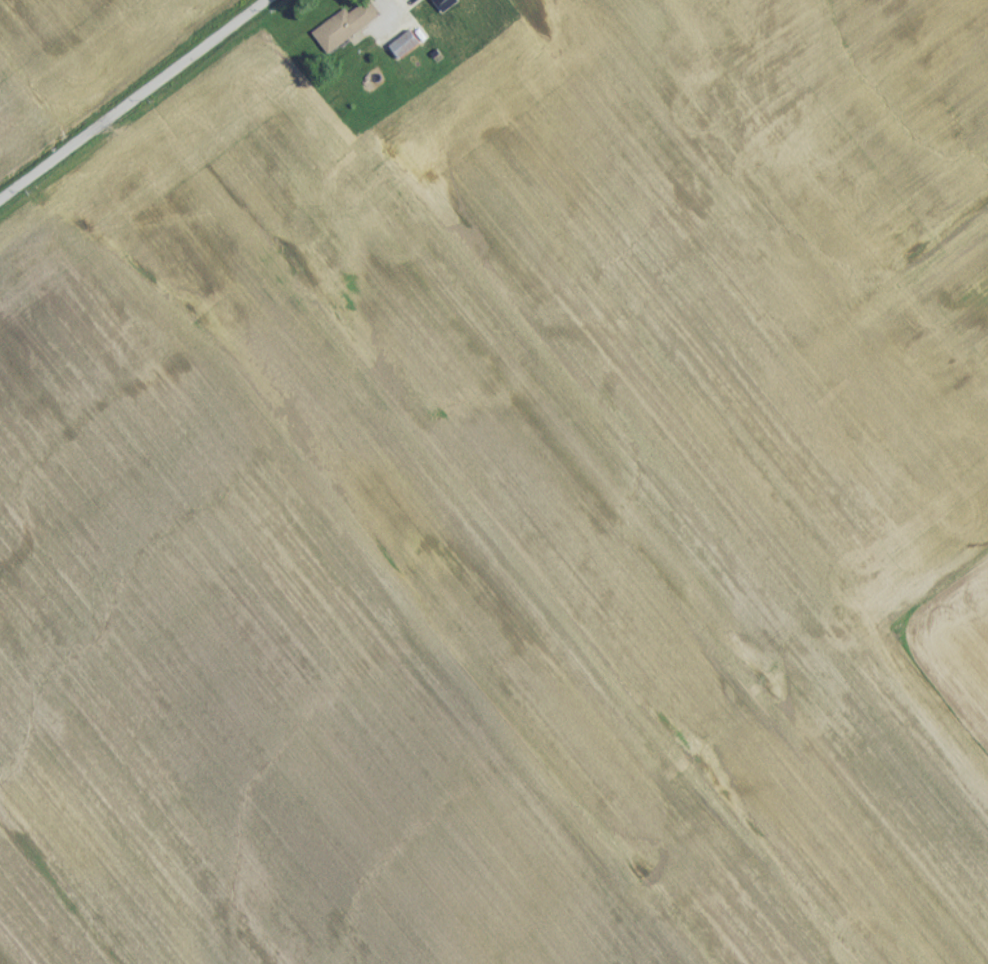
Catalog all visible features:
building: (347, 32)
road: (136, 103)

